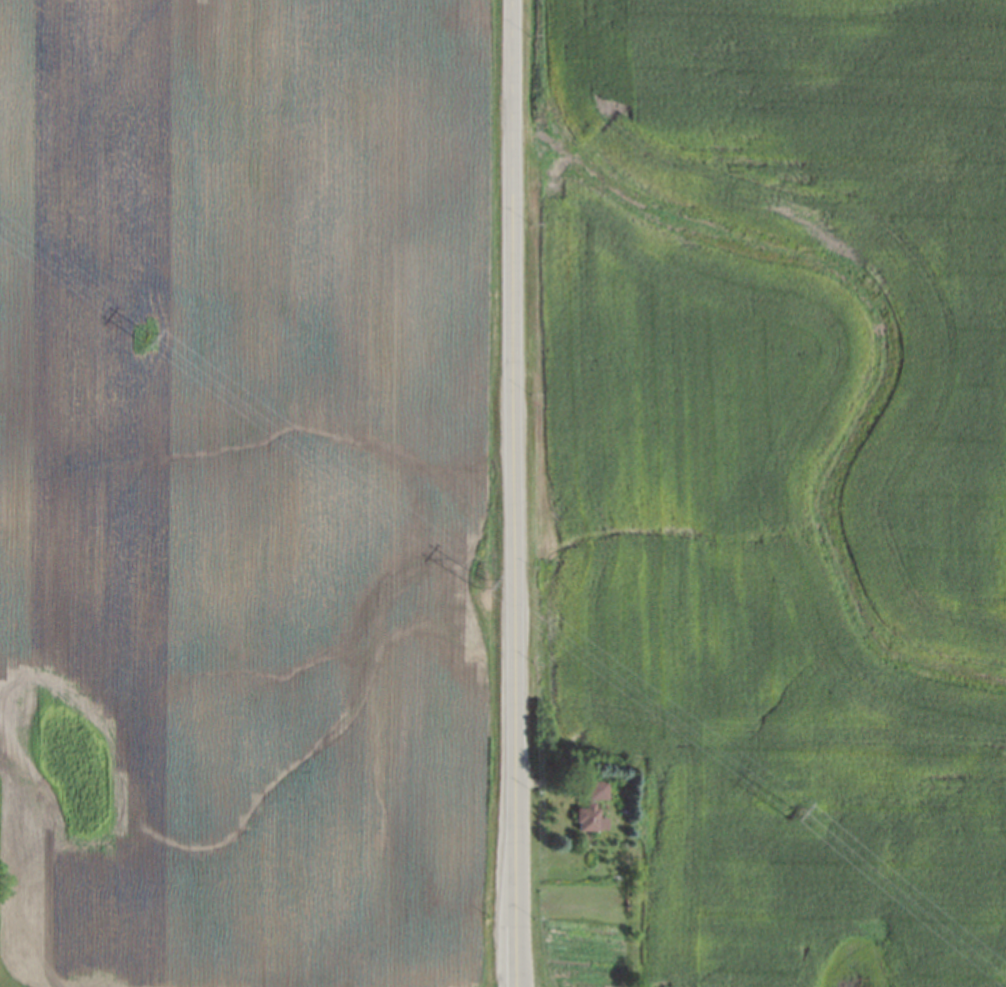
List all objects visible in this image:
road: (514, 493)
crop: (236, 496)
building: (594, 789)
building: (586, 817)

